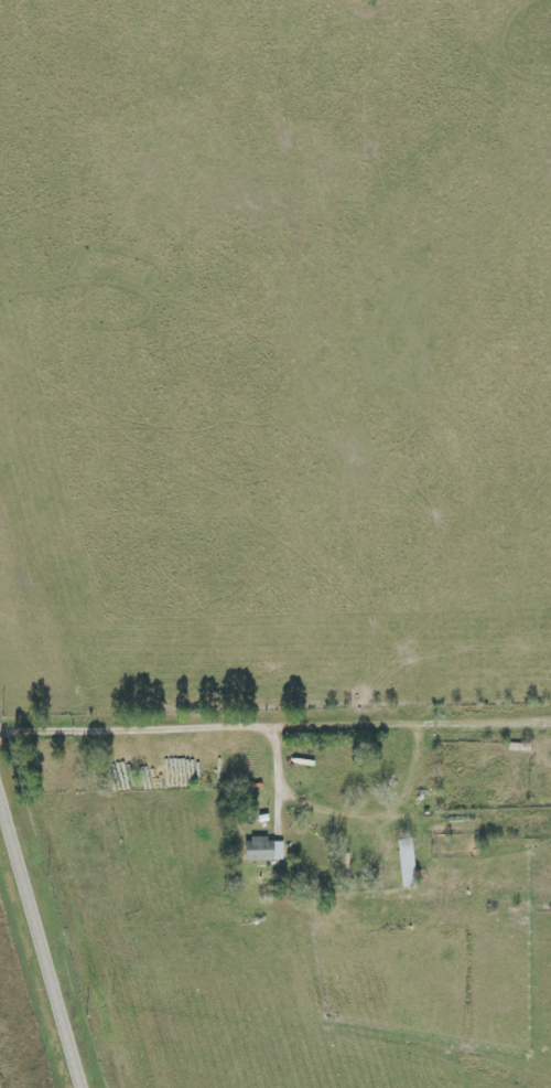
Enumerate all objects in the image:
road: (170, 729)
building: (261, 850)
building: (404, 863)
road: (41, 940)

